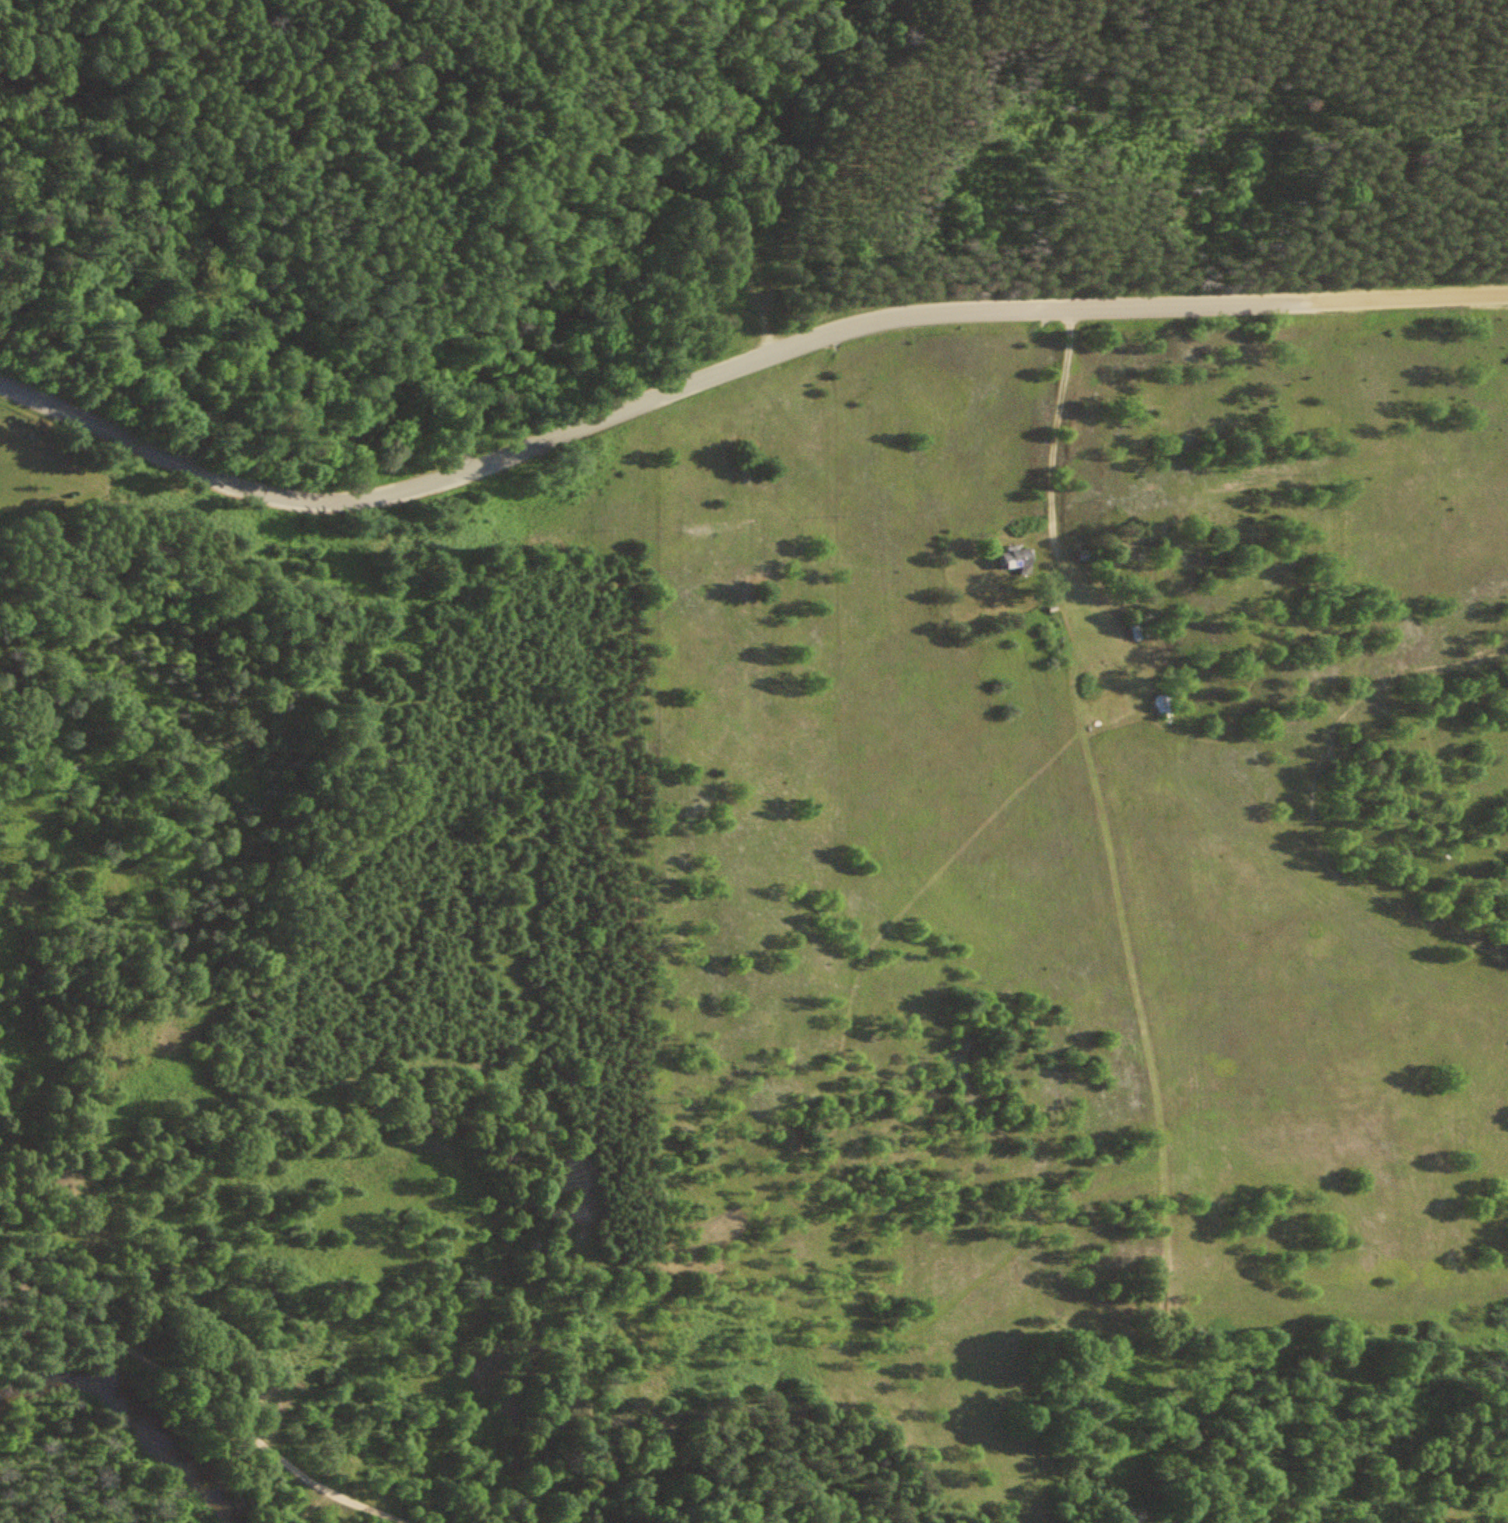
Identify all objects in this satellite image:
road: (1410, 298)
road: (642, 403)
road: (1057, 412)
building: (1013, 558)
building: (1164, 702)
road: (200, 1395)
river: (136, 1412)

